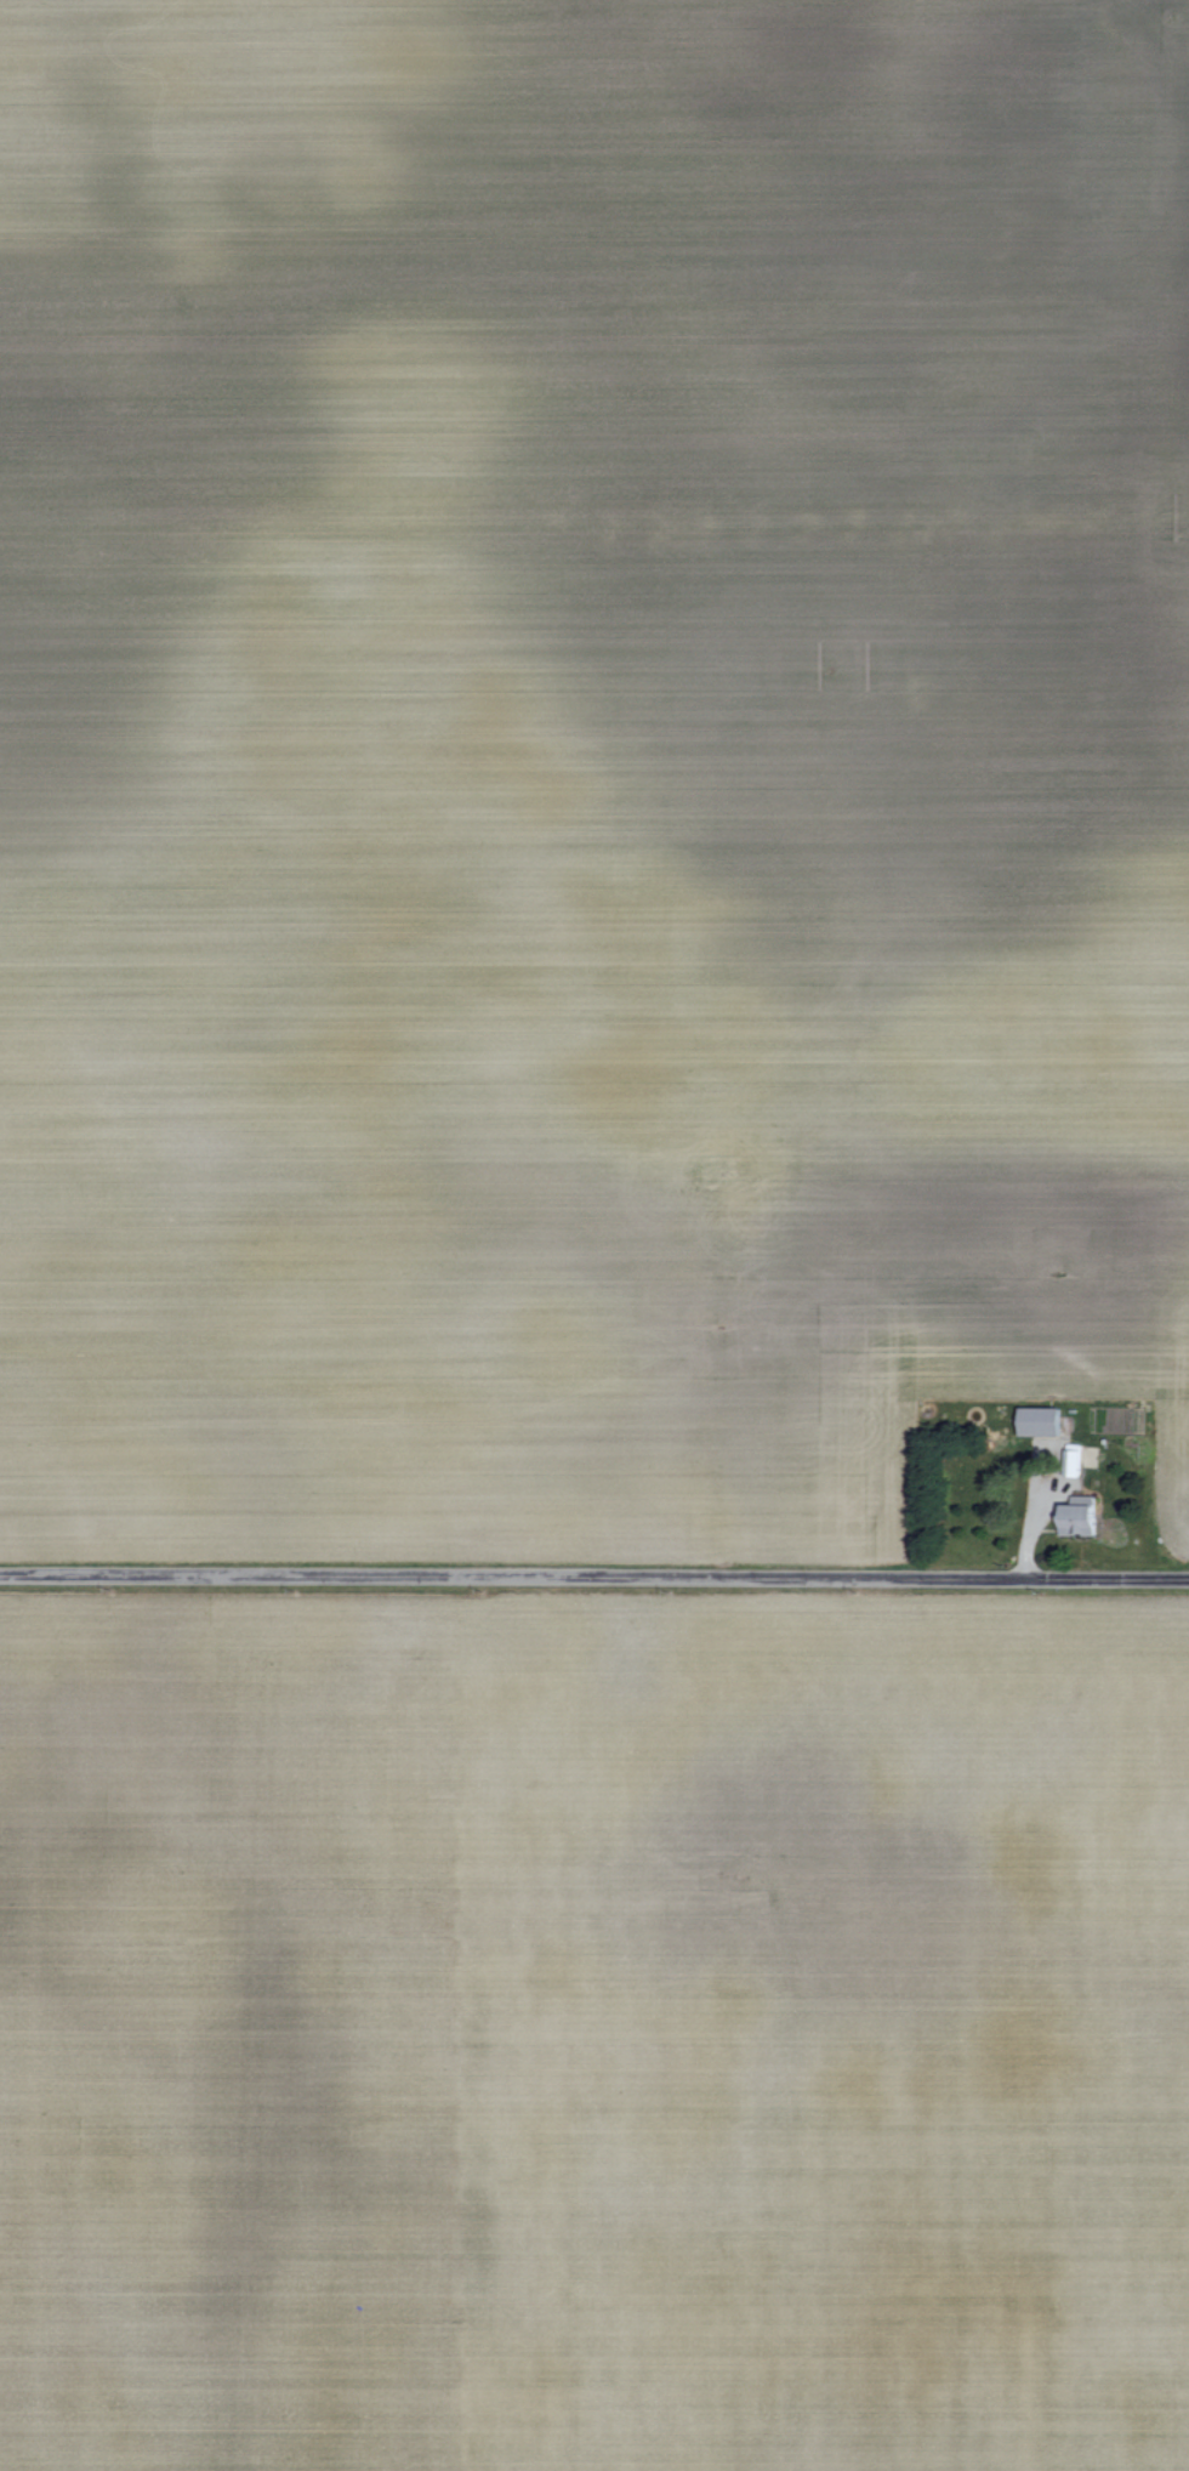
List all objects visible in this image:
road: (593, 1577)

